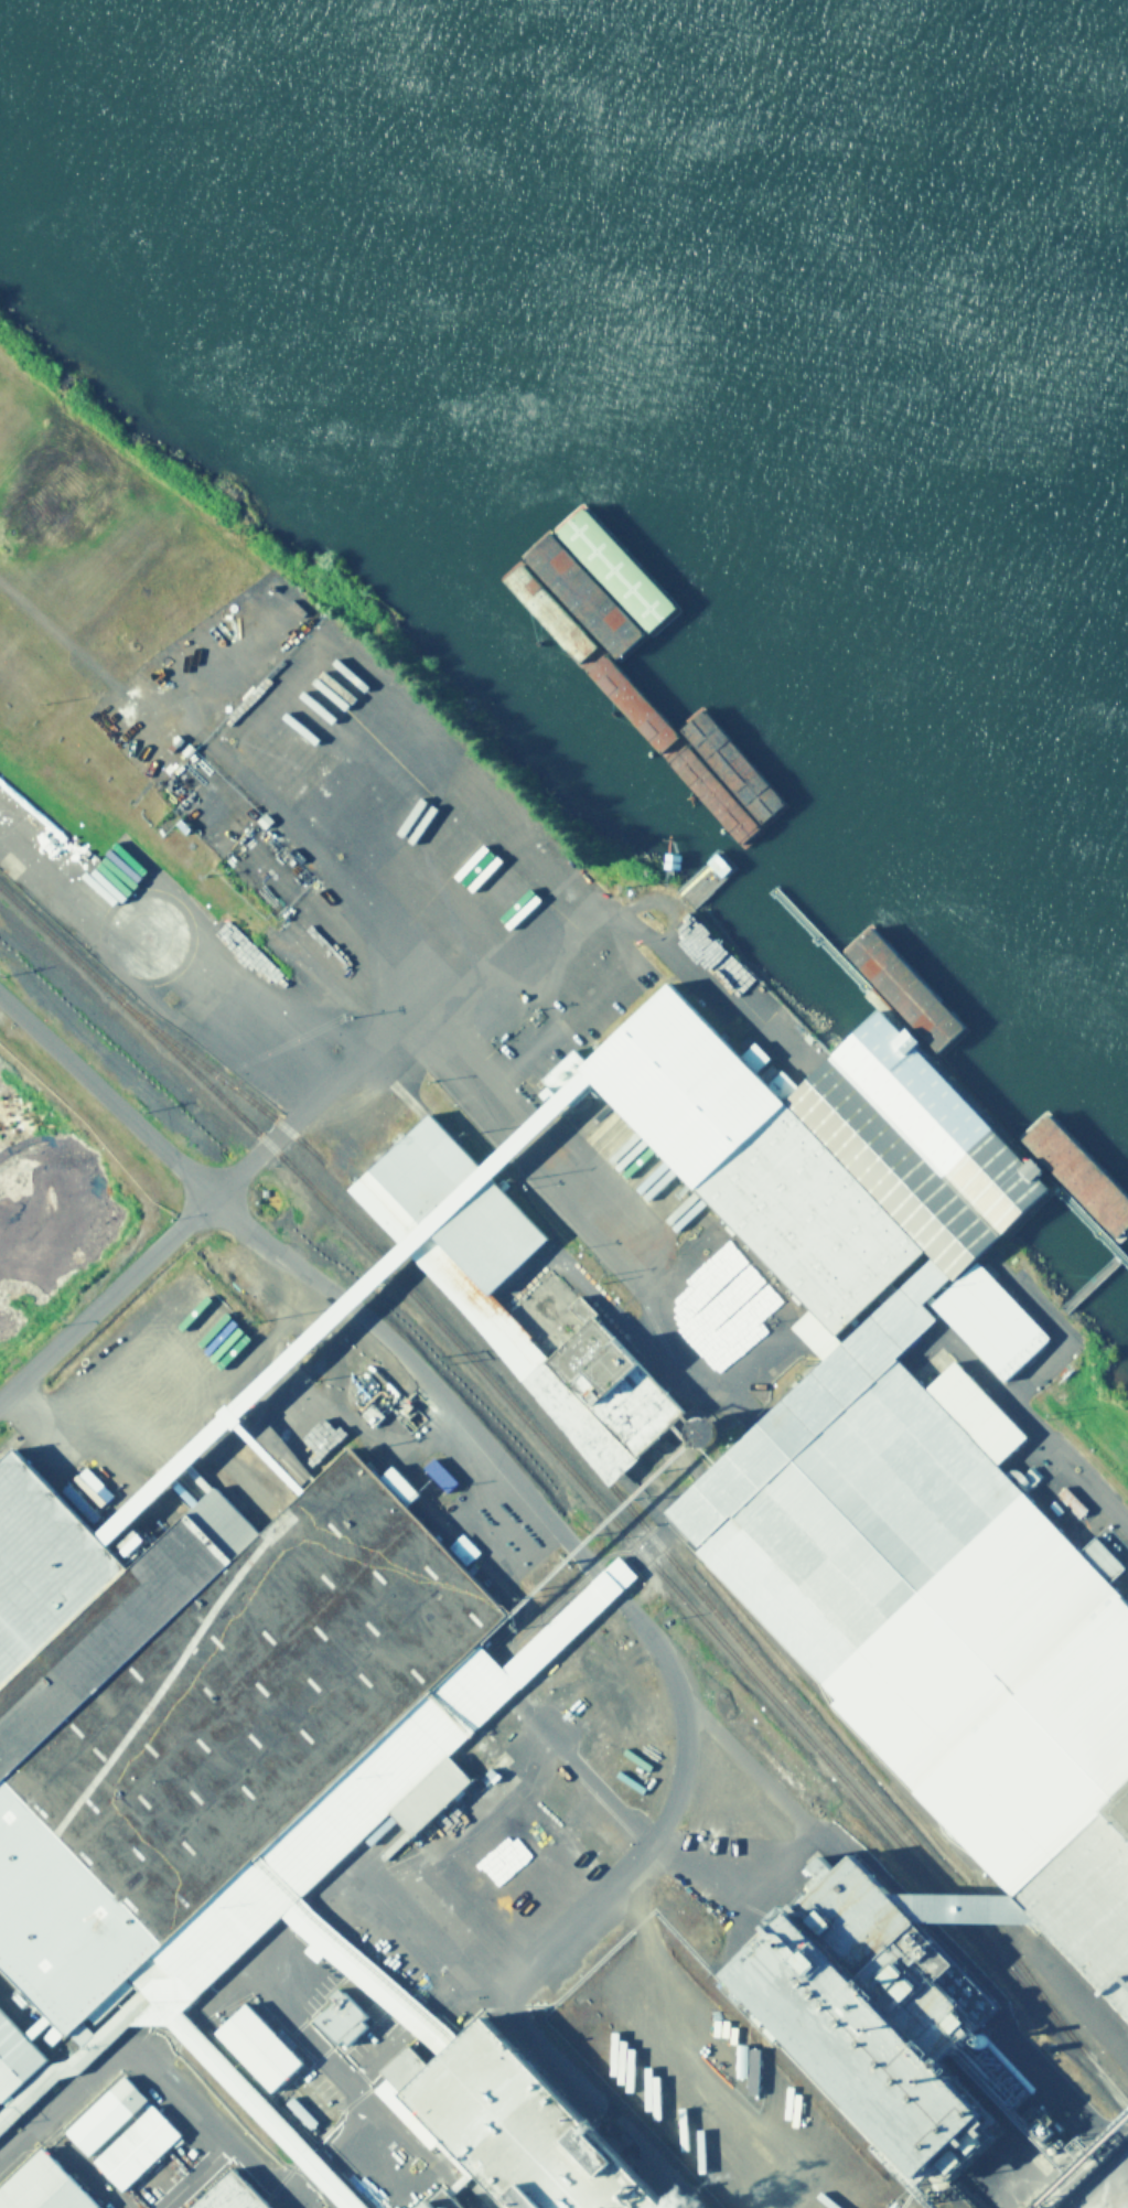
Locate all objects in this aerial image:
river: (896, 215)
building: (229, 908)
railway: (53, 943)
building: (485, 1241)
building: (814, 1291)
road: (106, 1297)
building: (125, 1336)
building: (440, 1477)
building: (737, 1483)
railway: (616, 1500)
railway: (627, 1542)
building: (122, 1580)
building: (1099, 1594)
building: (294, 1893)
building: (821, 1953)
building: (344, 2022)
building: (261, 2049)
road: (154, 2069)
building: (486, 2116)
building: (107, 2119)
building: (138, 2151)
road: (1100, 2180)
building: (44, 2187)
building: (235, 2195)

